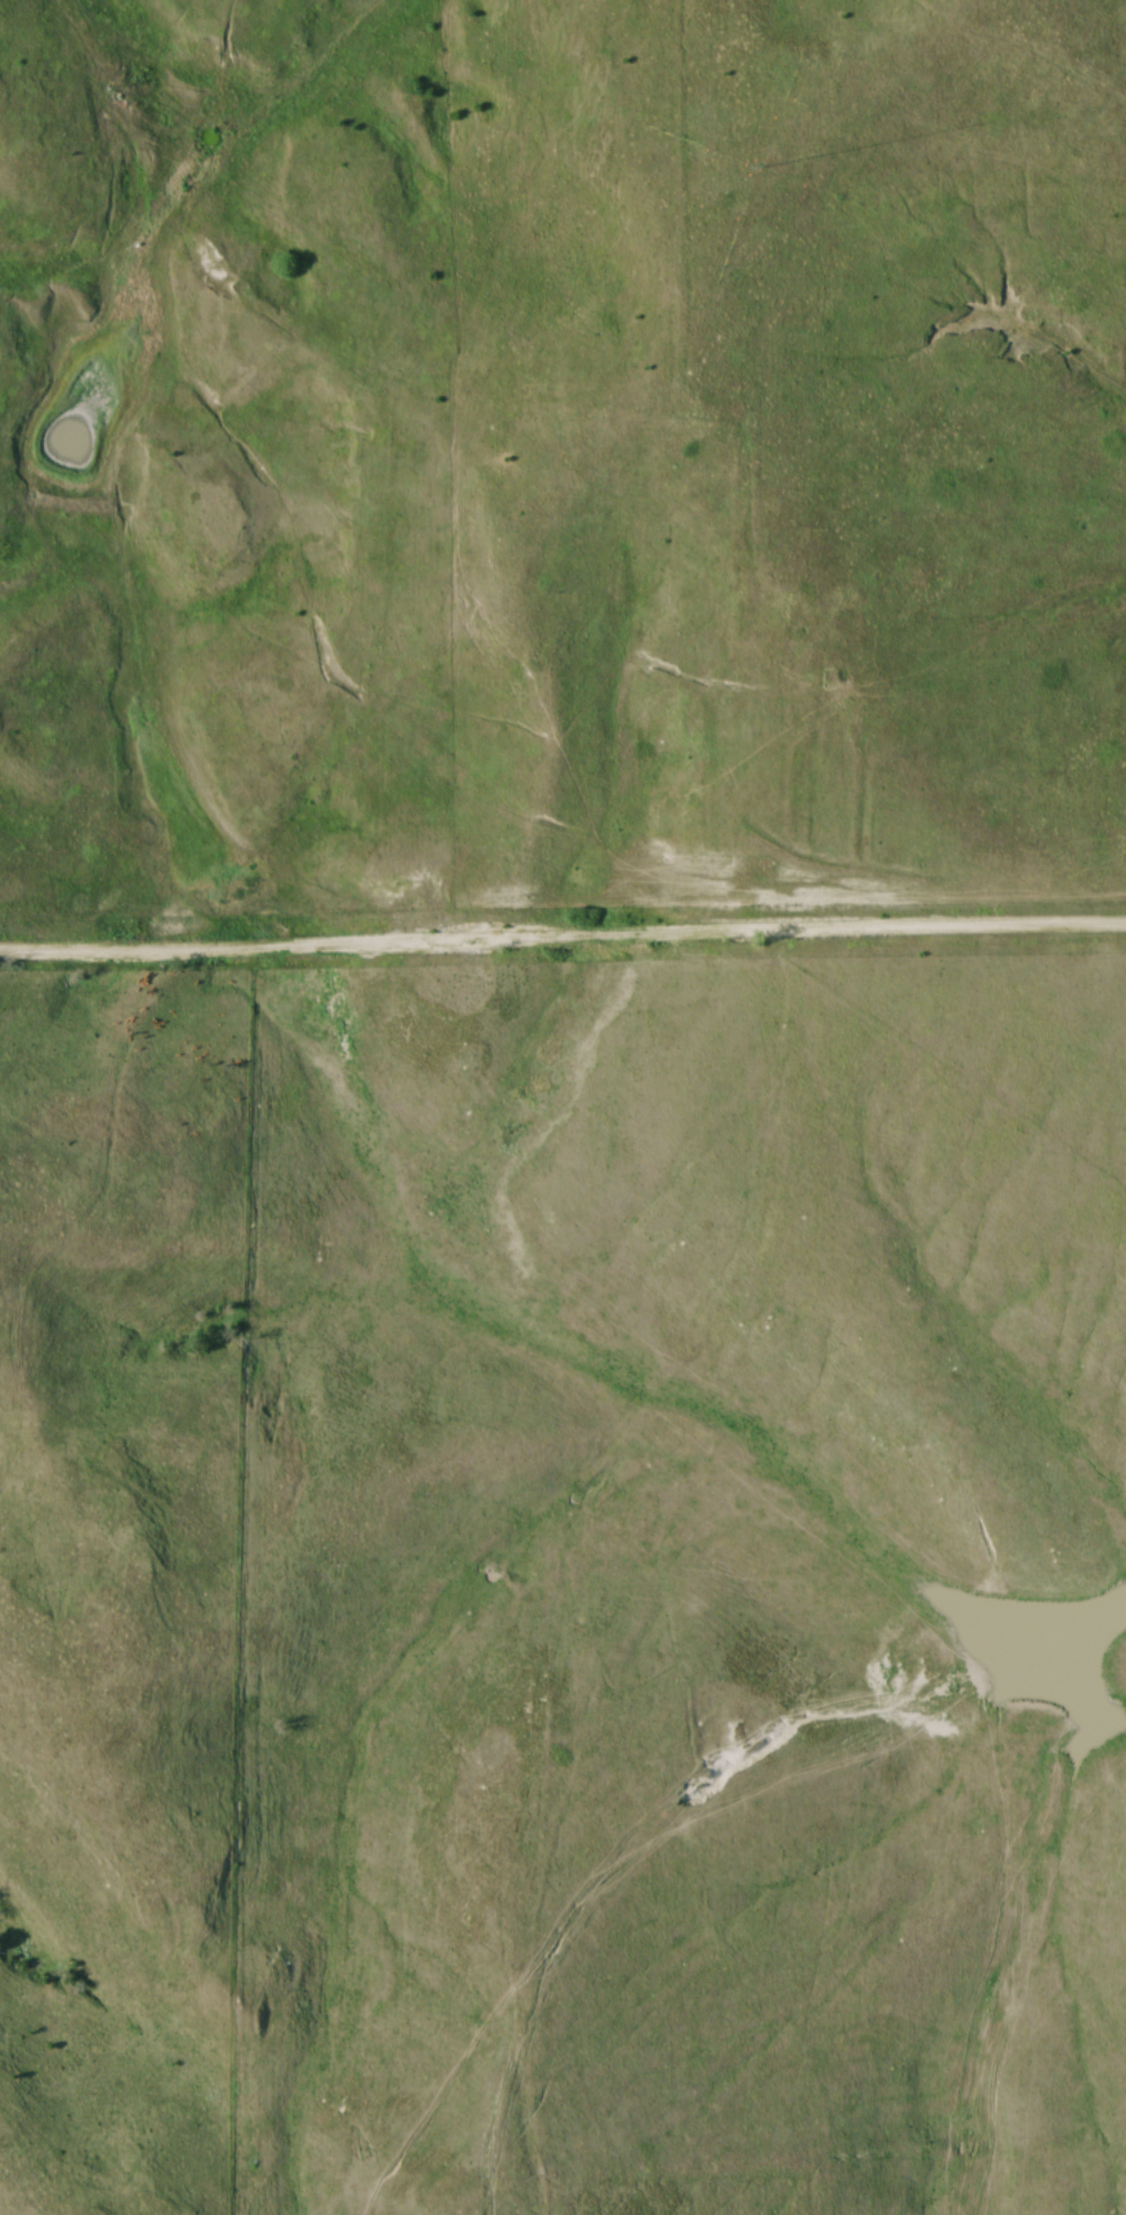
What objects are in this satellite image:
road: (562, 936)

